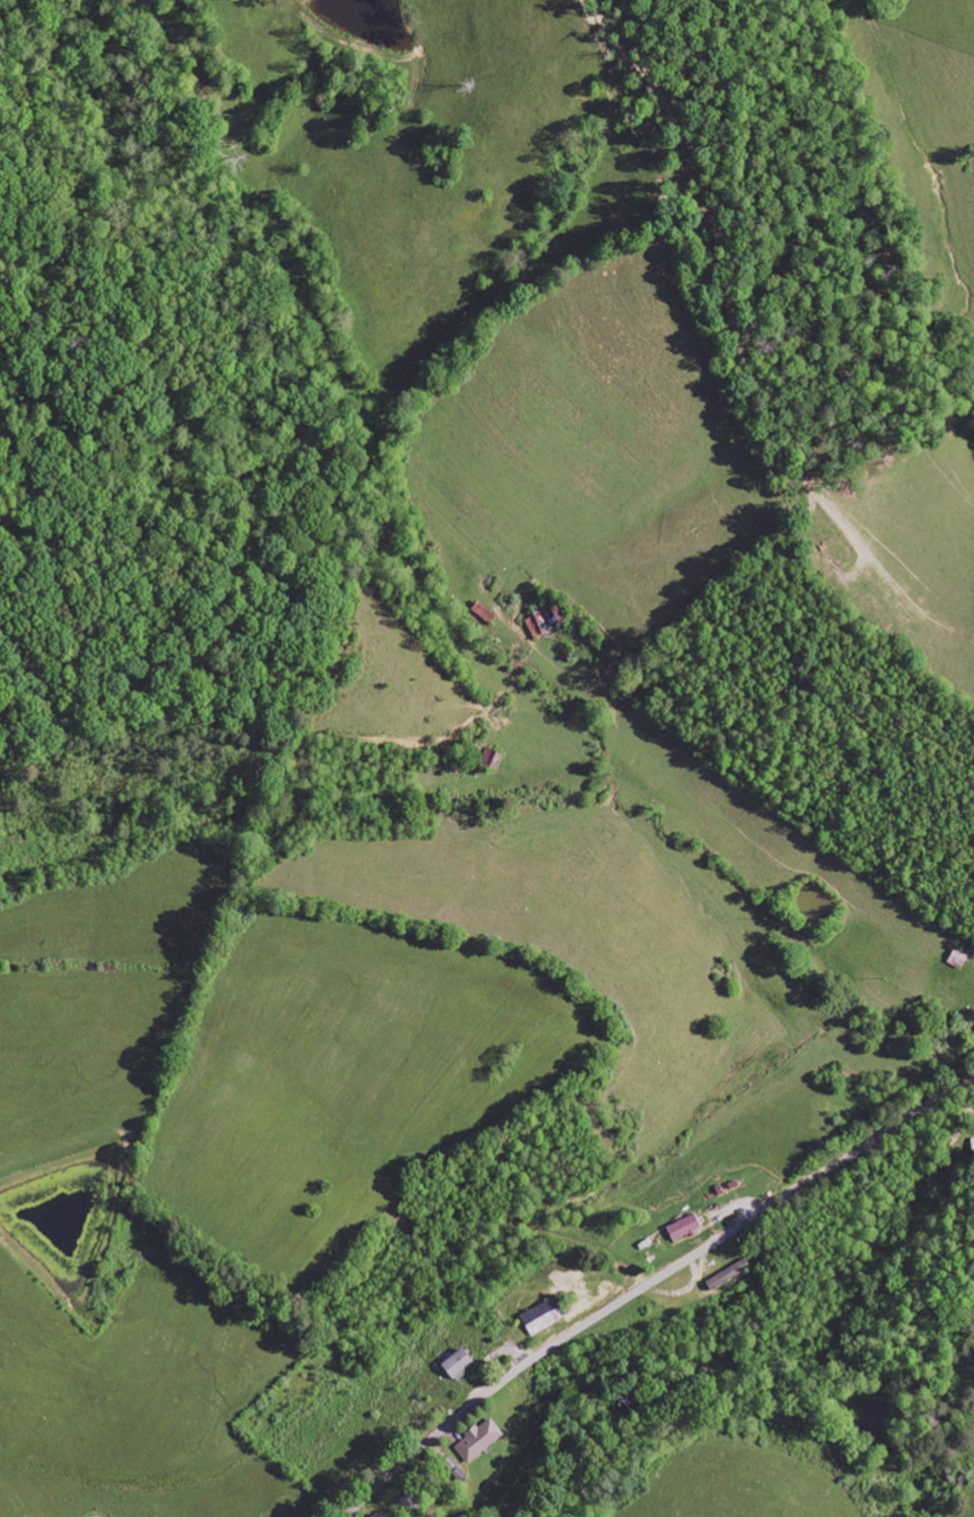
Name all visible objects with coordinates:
building: (973, 1145)
building: (685, 1228)
building: (729, 1275)
road: (646, 1279)
building: (543, 1317)
building: (459, 1365)
building: (480, 1440)

